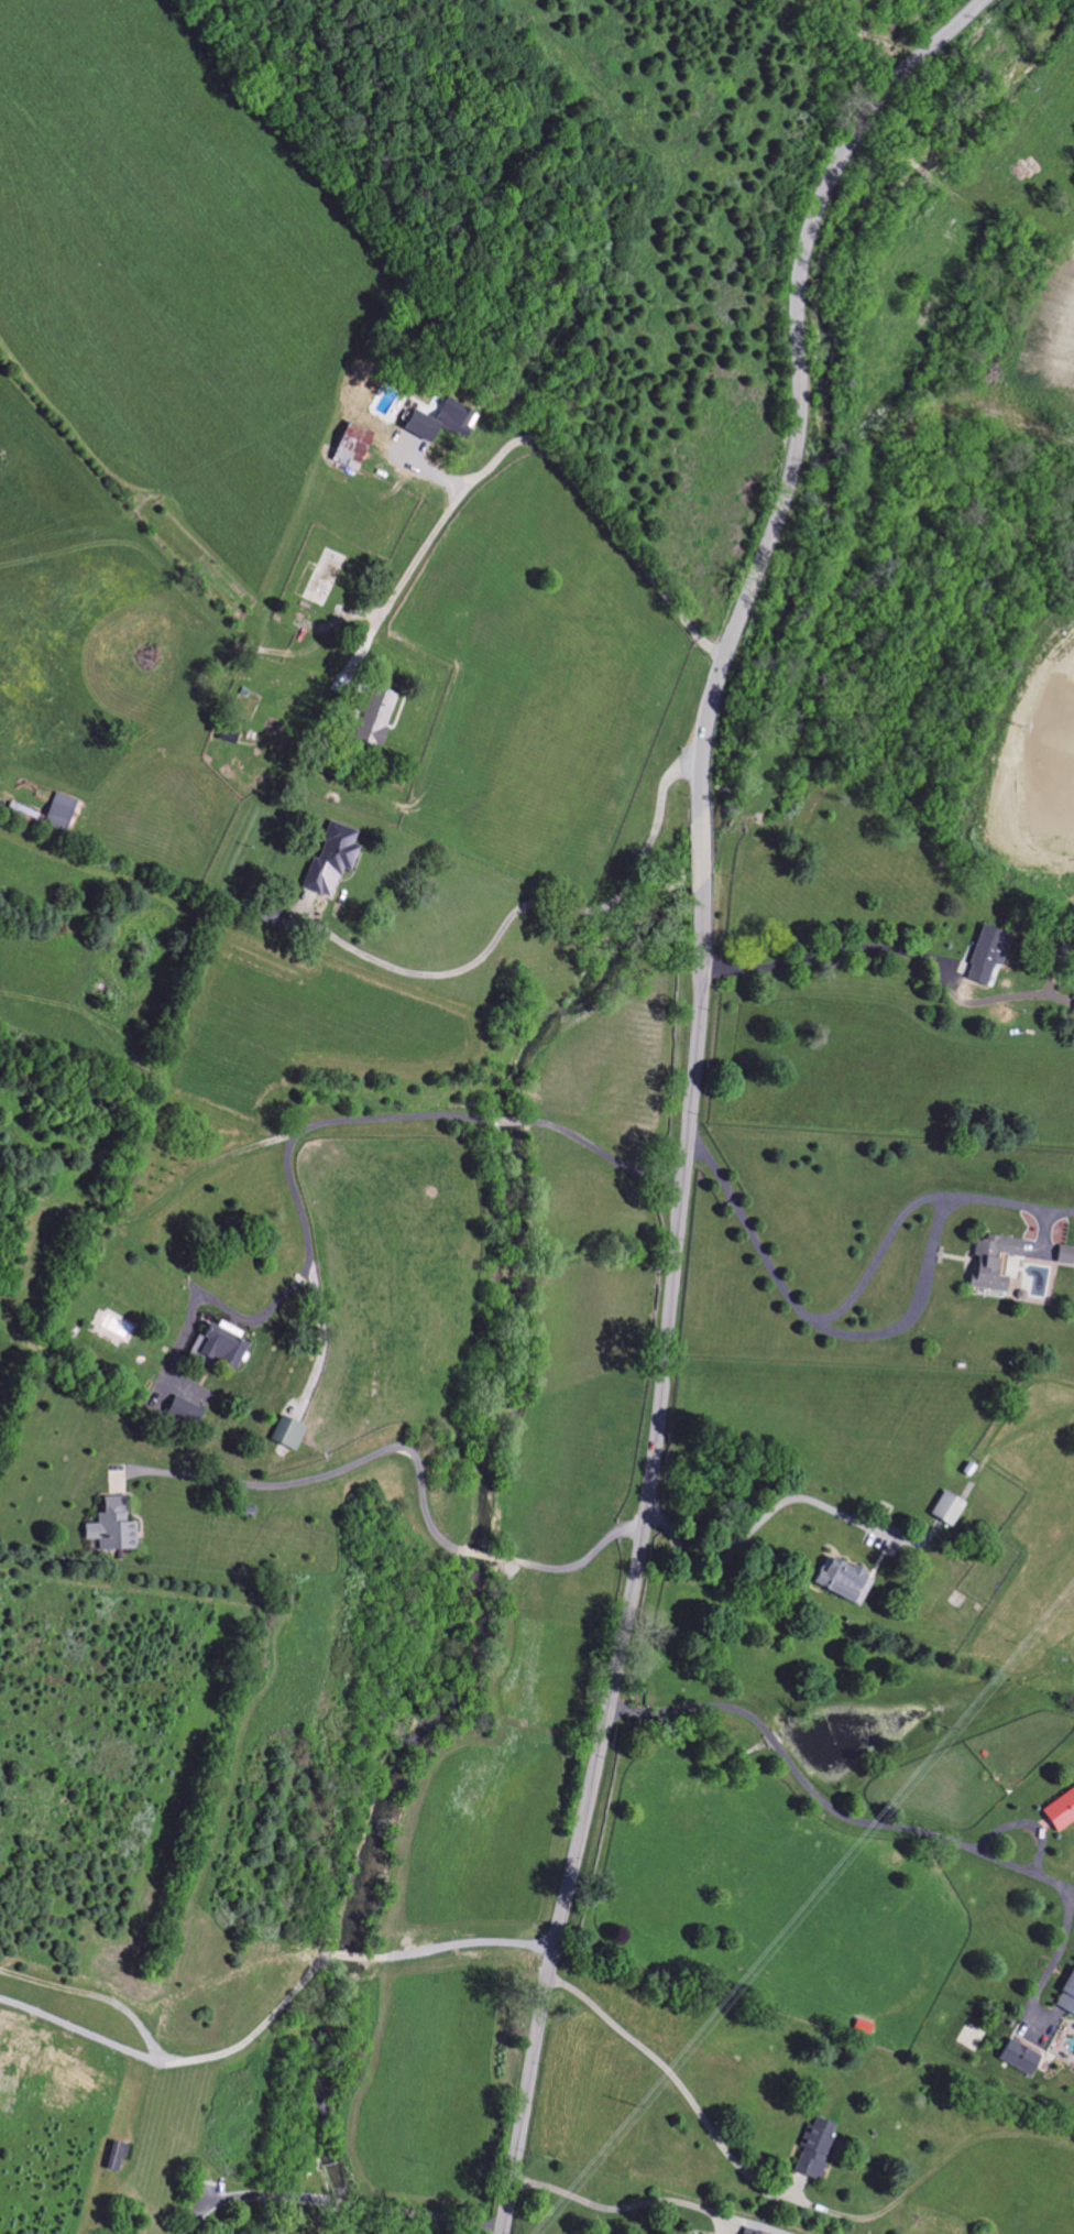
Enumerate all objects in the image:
road: (872, 142)
road: (799, 382)
building: (439, 419)
road: (529, 442)
building: (350, 446)
building: (374, 716)
building: (58, 811)
road: (700, 847)
building: (330, 859)
road: (541, 907)
building: (988, 949)
road: (823, 950)
building: (1073, 1011)
road: (508, 1119)
road: (602, 1152)
road: (282, 1163)
building: (1065, 1255)
building: (991, 1261)
road: (903, 1319)
building: (215, 1347)
building: (182, 1413)
building: (286, 1432)
road: (325, 1472)
building: (946, 1508)
road: (760, 1518)
building: (111, 1527)
road: (481, 1551)
road: (579, 1560)
road: (635, 1561)
building: (842, 1581)
road: (824, 1805)
building: (1060, 1811)
road: (1072, 1889)
road: (454, 1940)
road: (347, 1954)
road: (1053, 1961)
building: (1066, 1996)
building: (1019, 2057)
road: (168, 2060)
road: (673, 2084)
building: (813, 2148)
building: (113, 2157)
road: (251, 2194)
road: (347, 2202)
road: (616, 2206)
road: (431, 2213)
building: (750, 2231)

